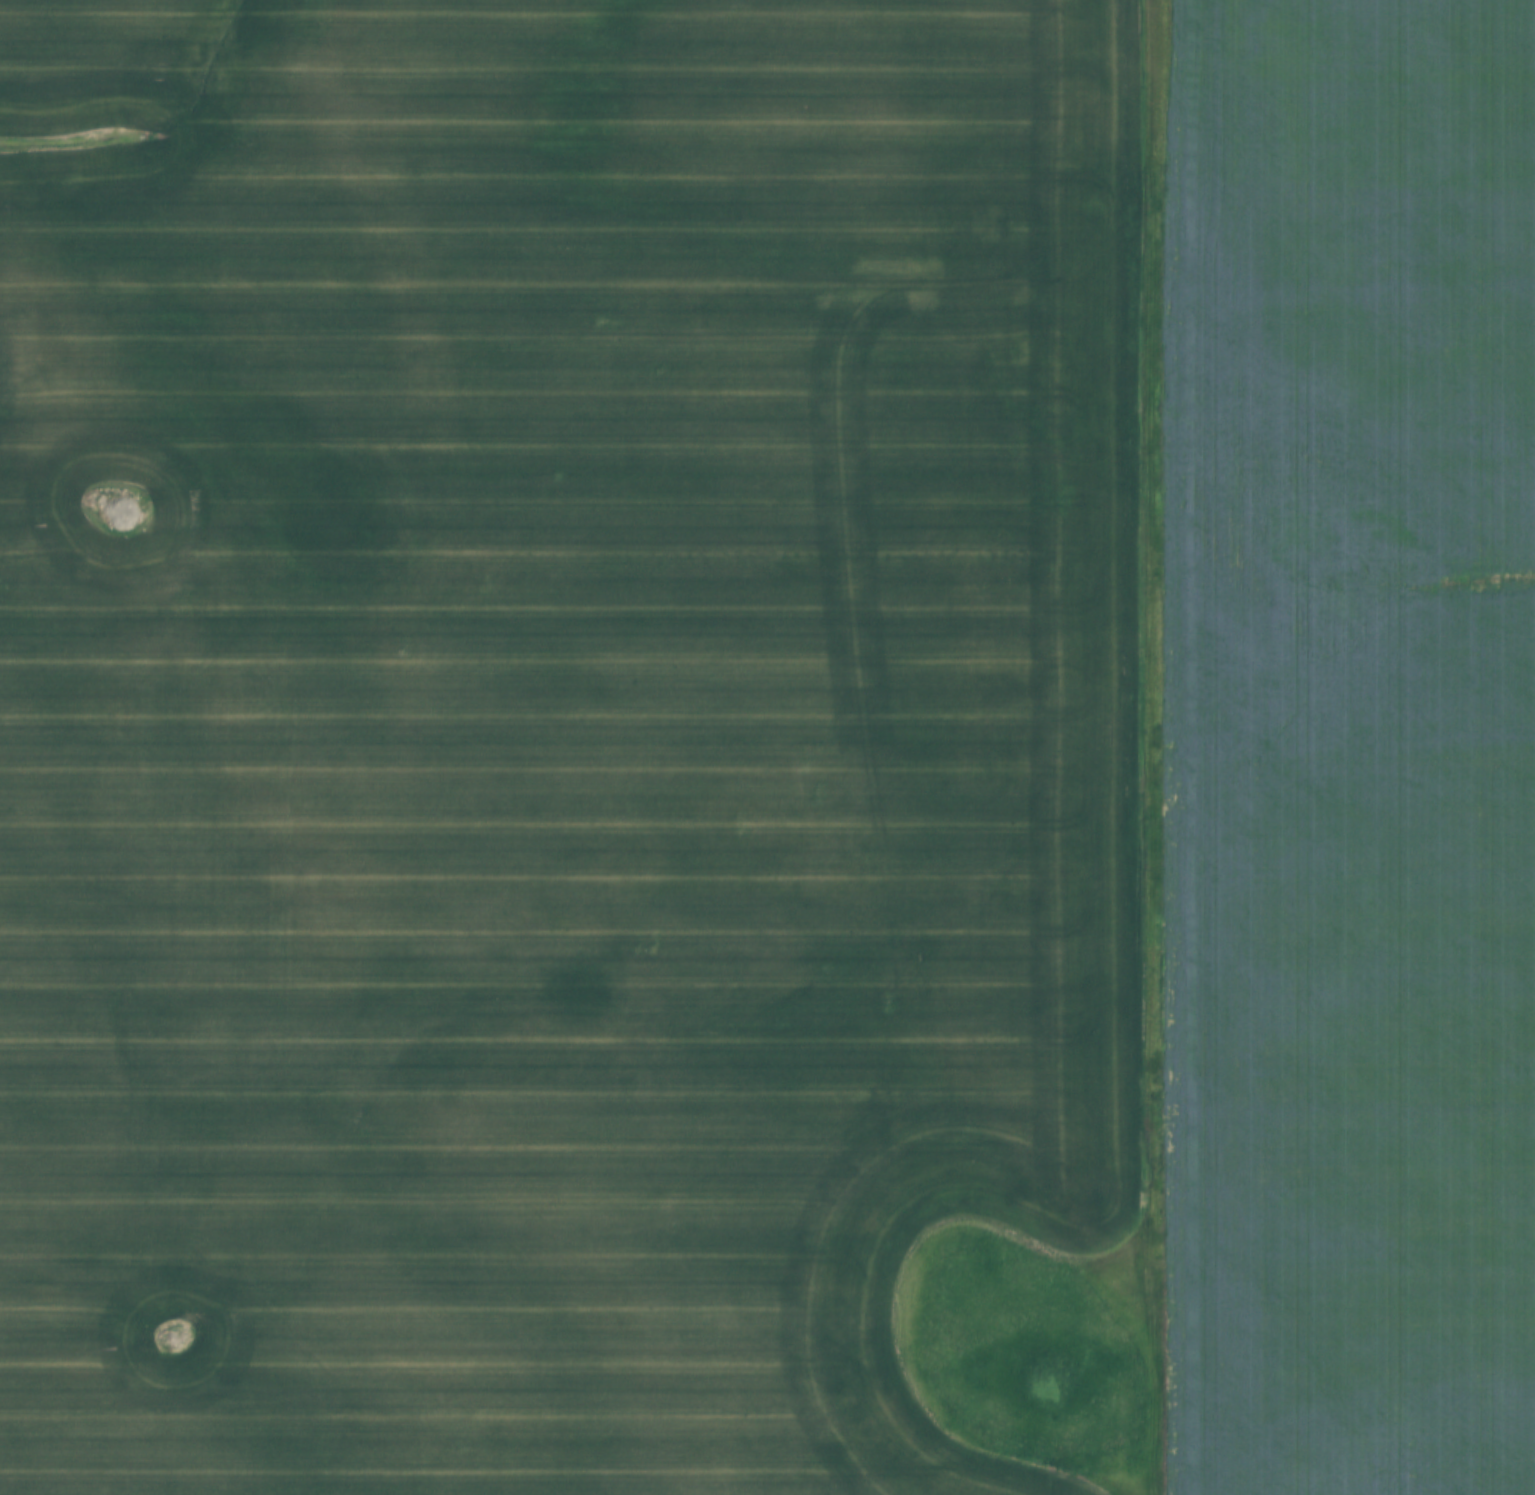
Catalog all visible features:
road: (1157, 747)

